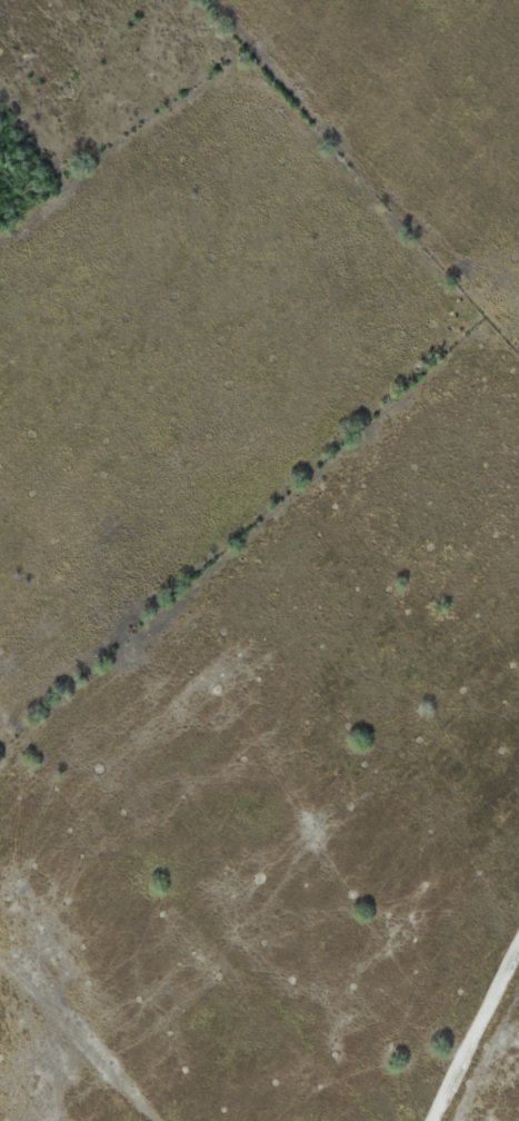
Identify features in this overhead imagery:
road: (82, 1034)
road: (476, 1036)

